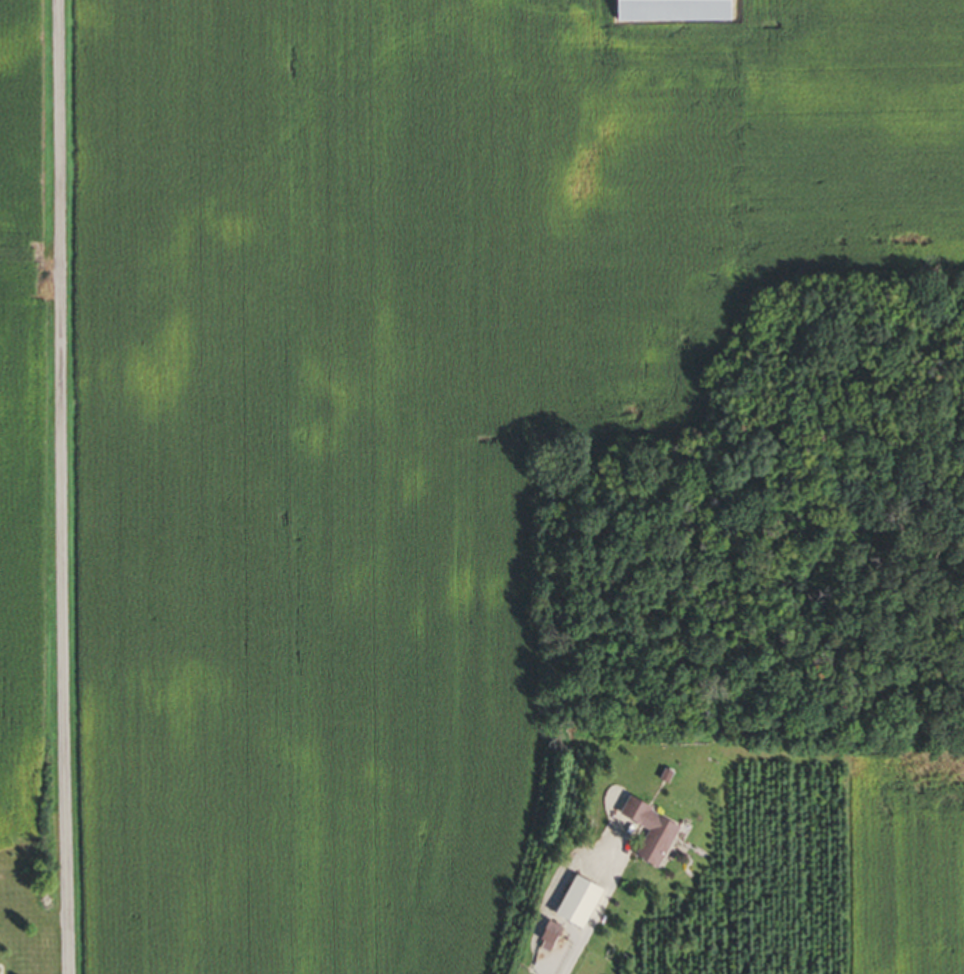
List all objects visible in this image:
building: (669, 12)
road: (63, 487)
building: (648, 835)
building: (574, 905)
road: (570, 958)

